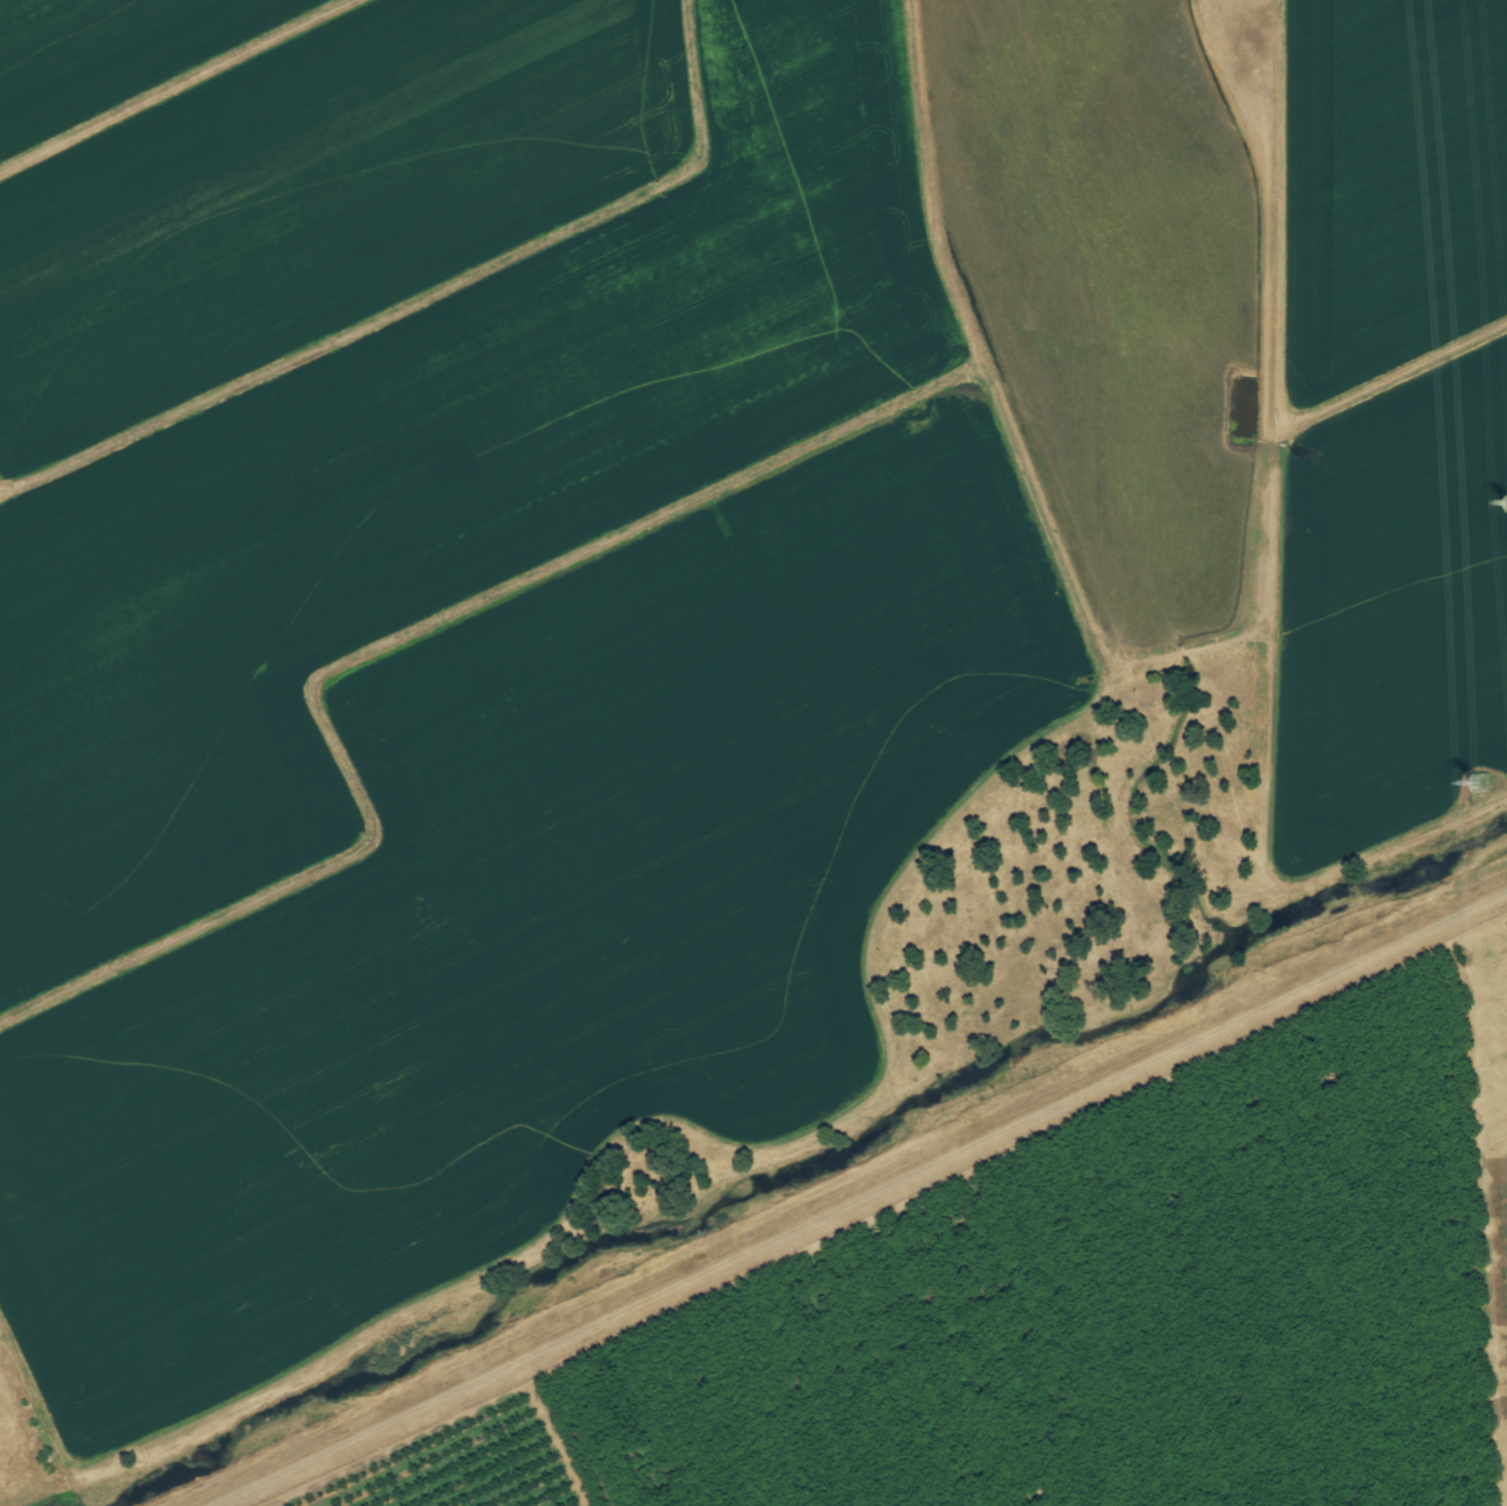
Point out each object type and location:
power tower: (1482, 785)

